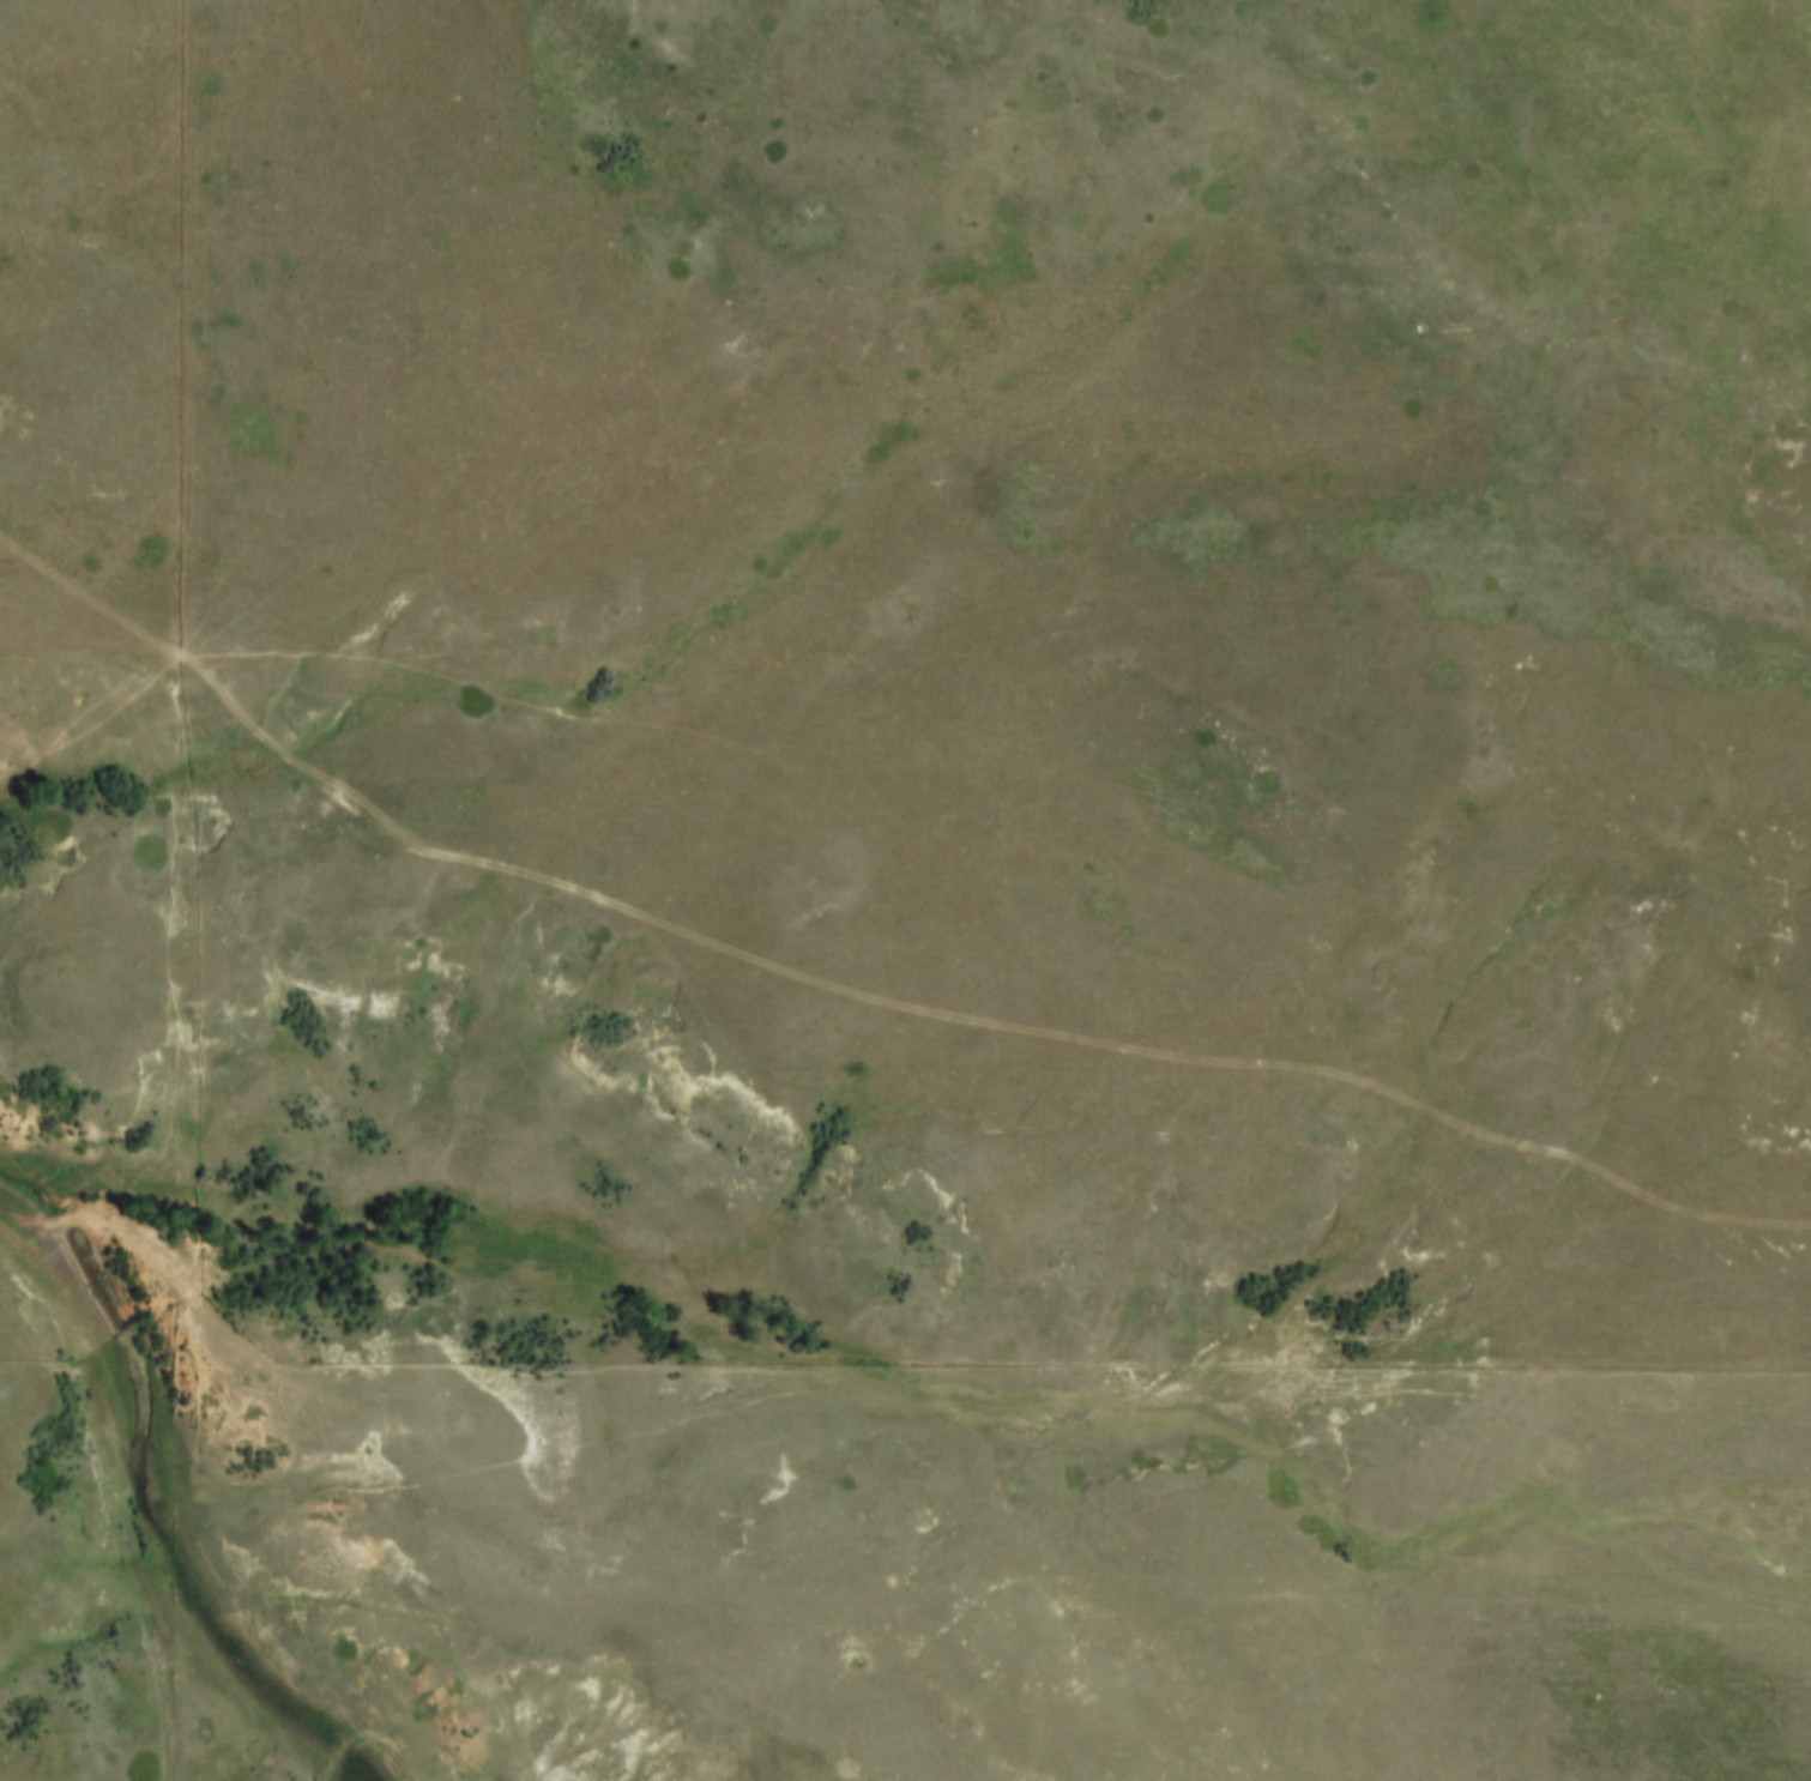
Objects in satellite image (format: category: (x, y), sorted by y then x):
road: (113, 1501)

